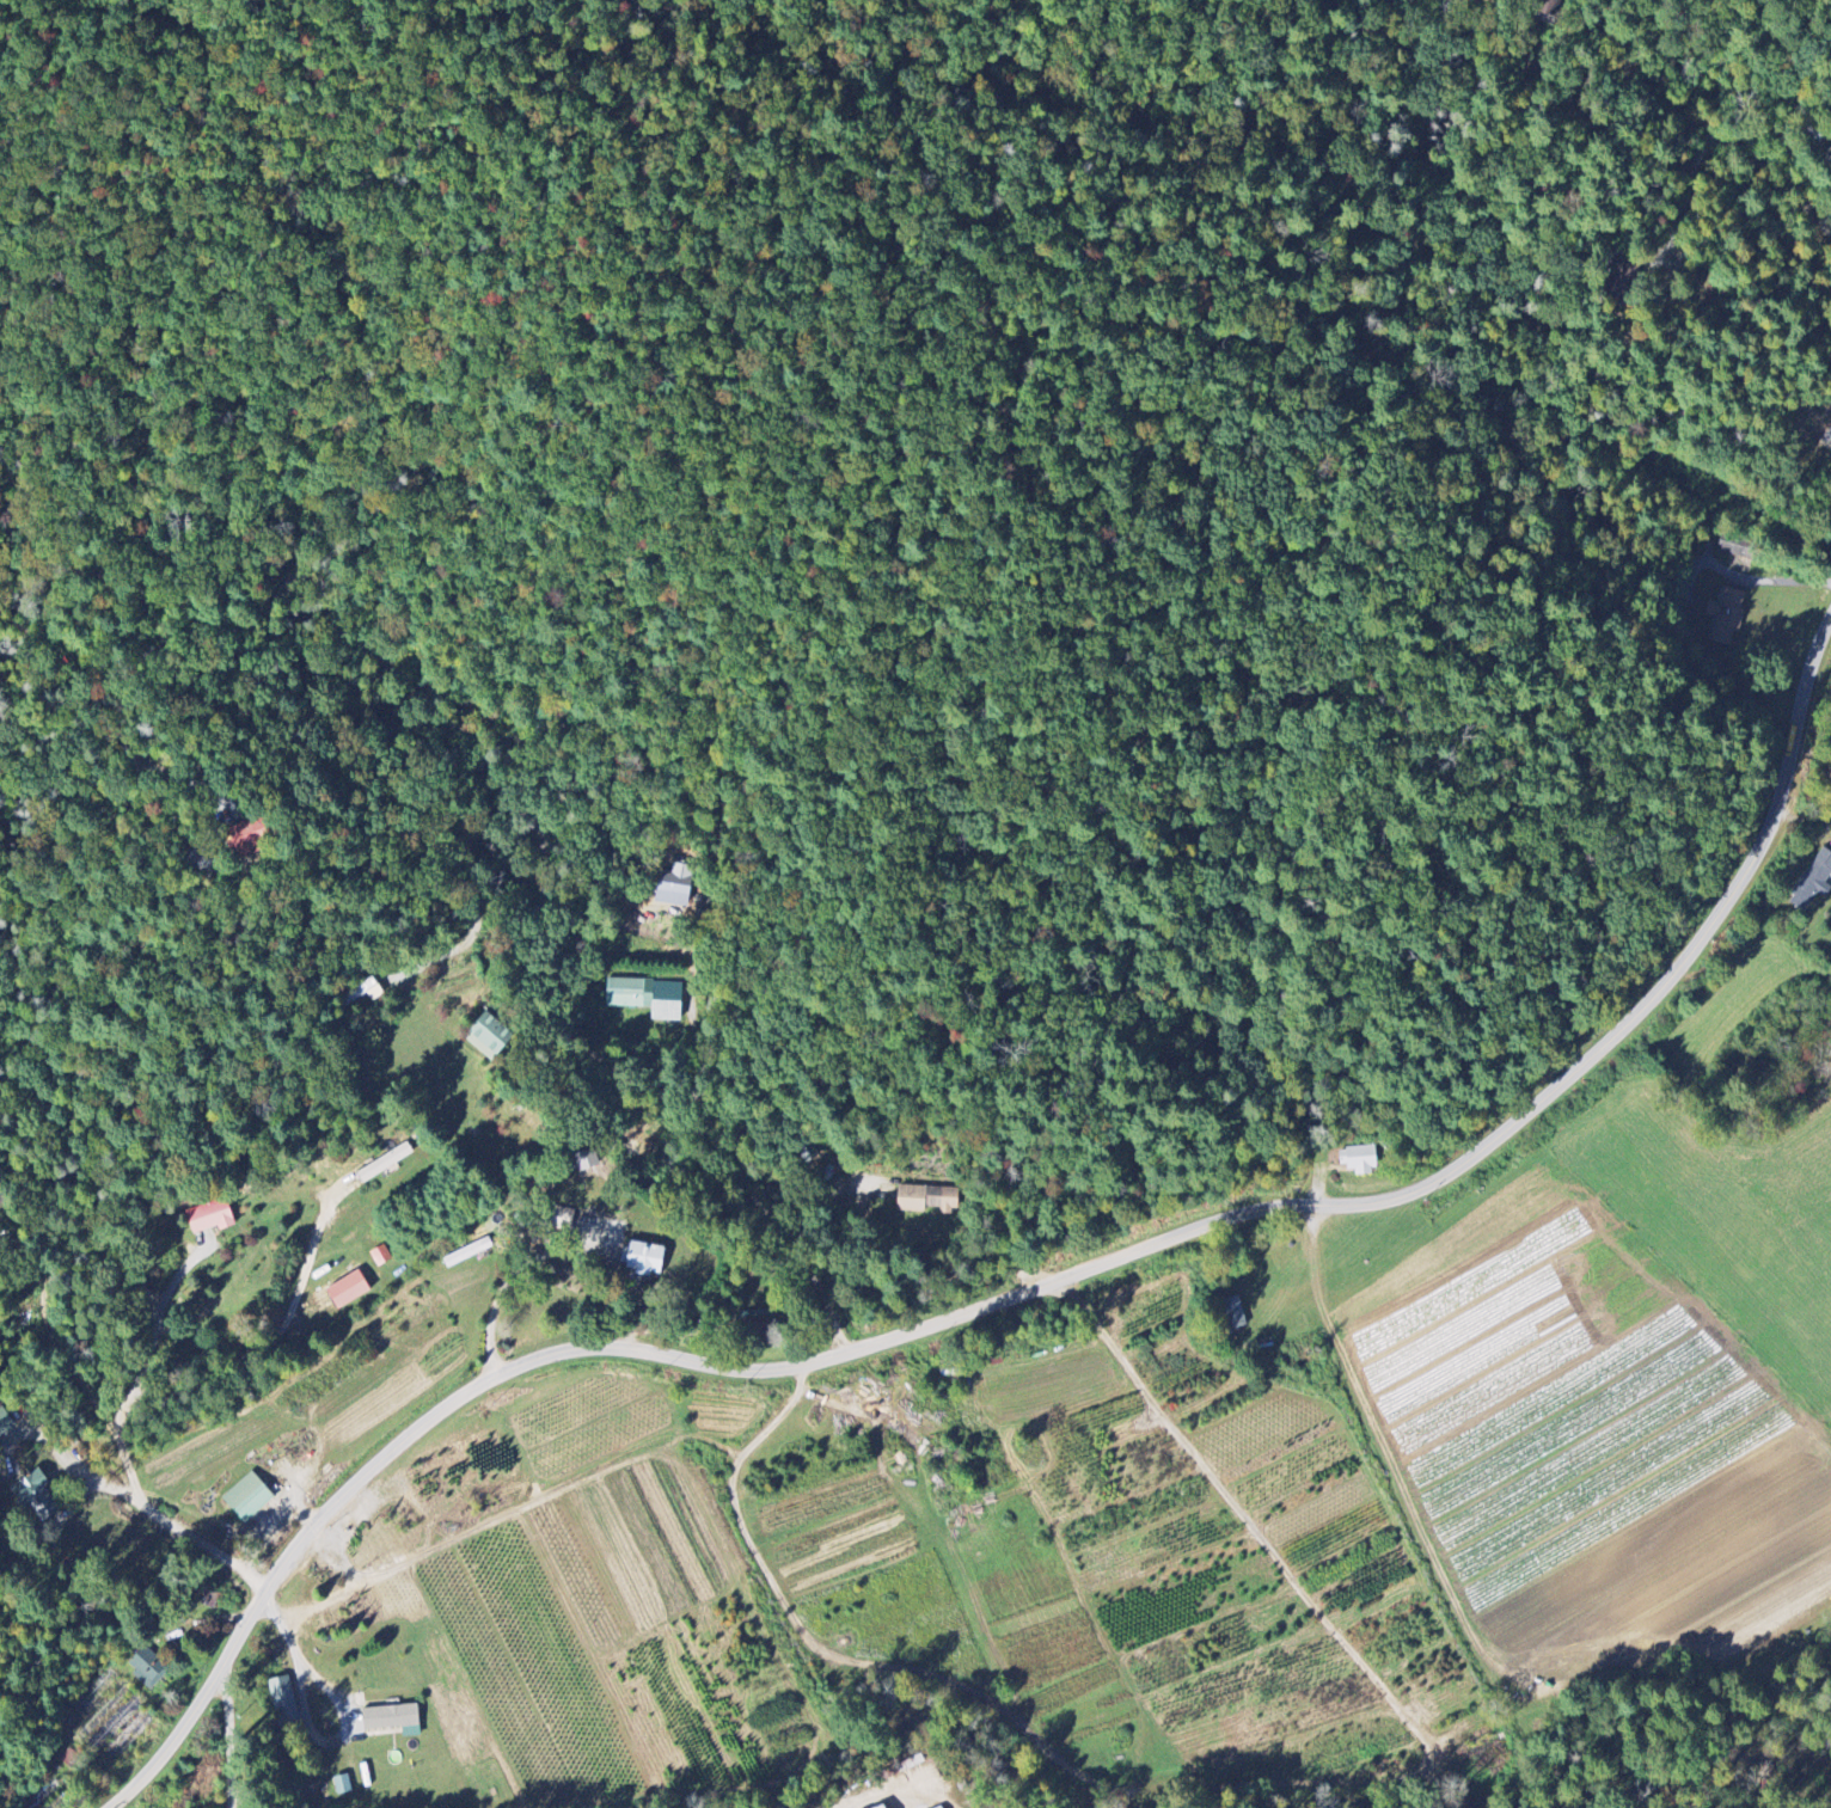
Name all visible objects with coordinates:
road: (1627, 122)
road: (1764, 580)
building: (1727, 615)
road: (537, 774)
building: (1813, 881)
building: (1360, 1159)
building: (913, 1203)
building: (214, 1220)
building: (558, 1220)
building: (382, 1255)
building: (647, 1260)
road: (510, 1276)
building: (350, 1289)
road: (1027, 1289)
building: (1237, 1312)
road: (274, 1337)
building: (5, 1423)
road: (79, 1469)
road: (136, 1487)
building: (37, 1496)
building: (249, 1497)
road: (1407, 1509)
building: (147, 1668)
building: (286, 1705)
building: (394, 1720)
road: (311, 1729)
road: (232, 1742)
river: (843, 1746)
river: (1550, 1784)
building: (343, 1785)
building: (887, 1807)
building: (942, 1807)

